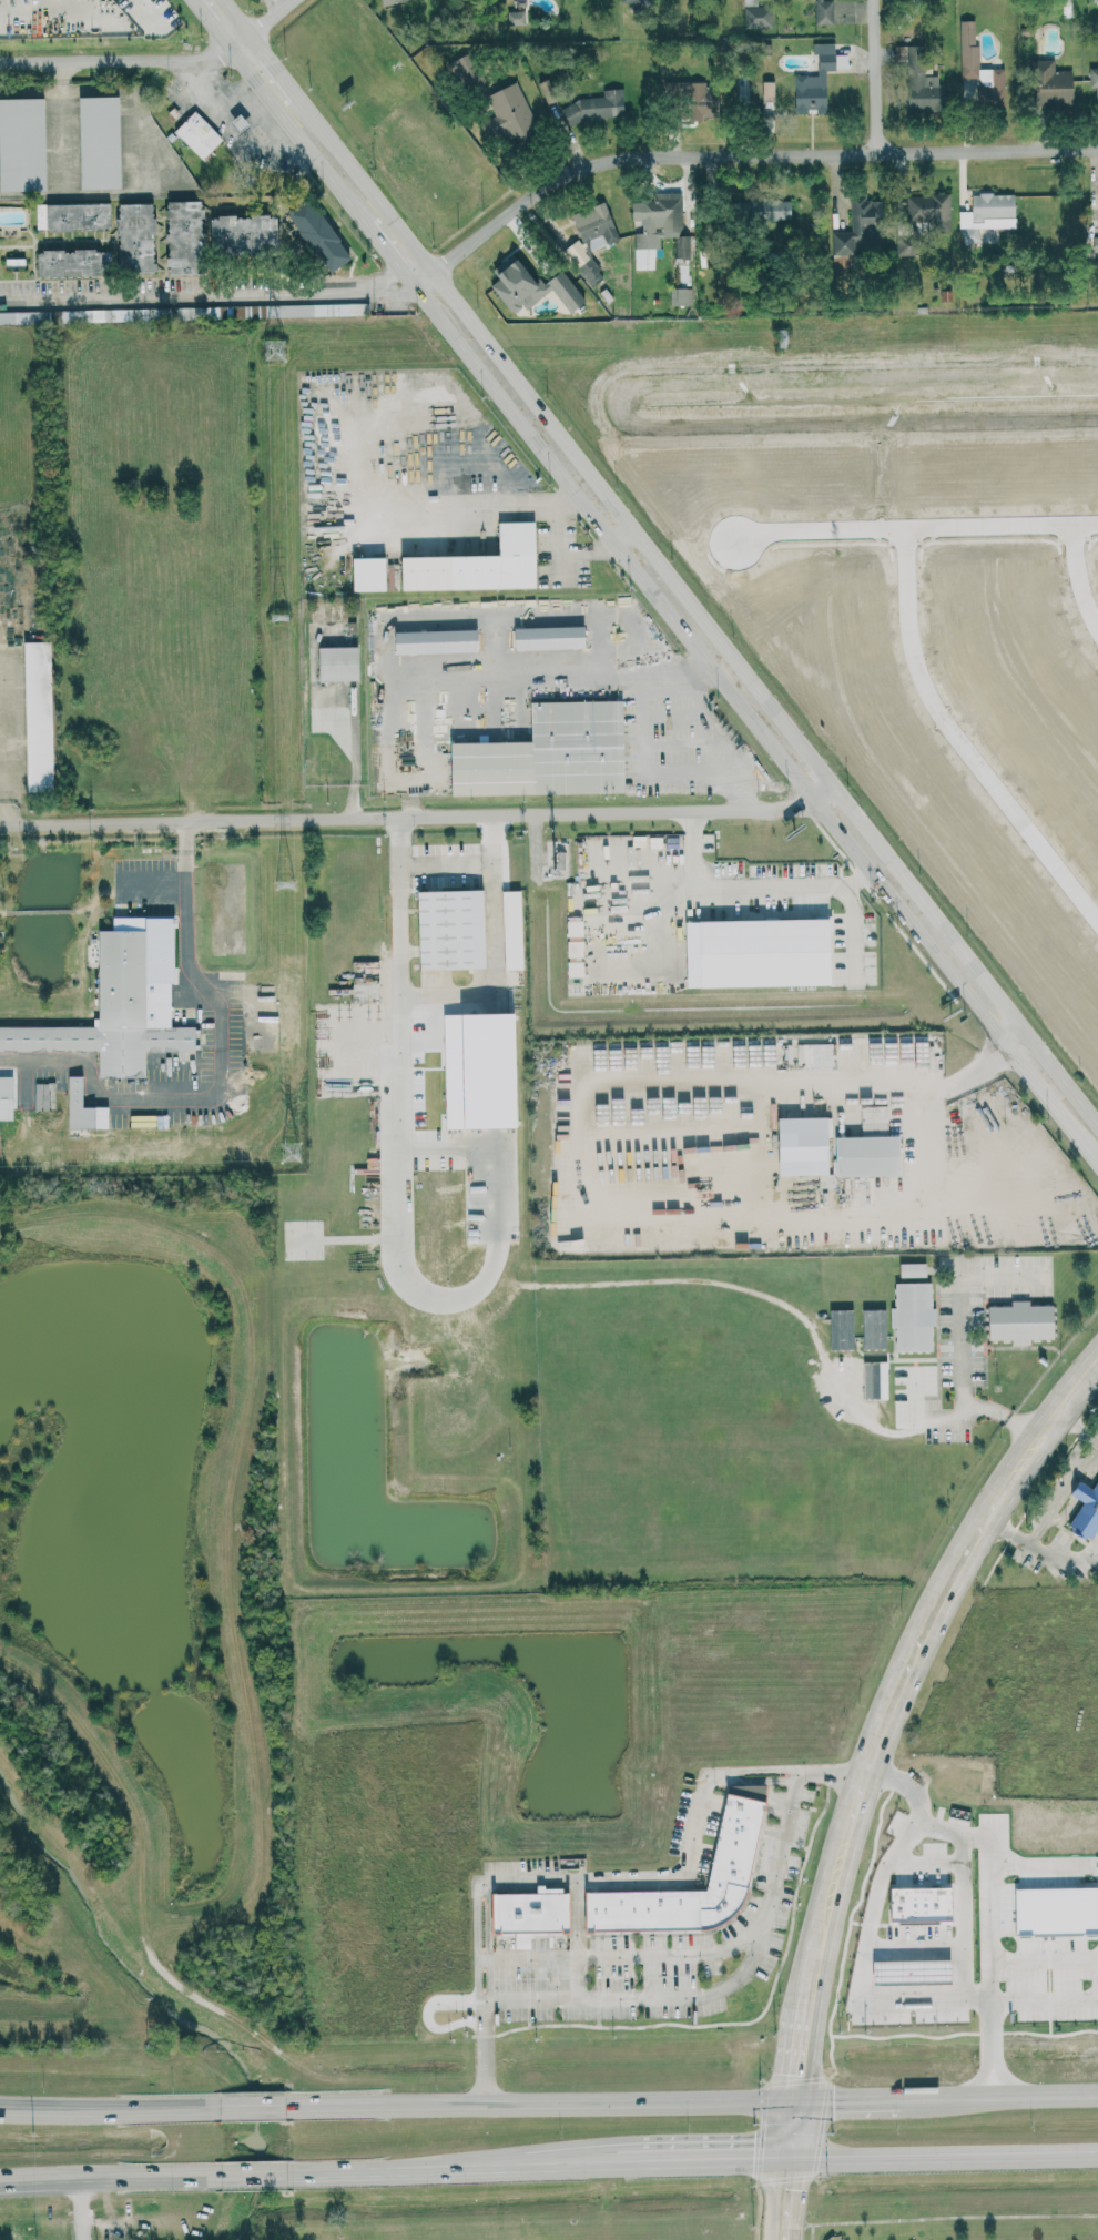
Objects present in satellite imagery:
building: (631, 0)
building: (389, 1)
building: (751, 2)
building: (824, 11)
road: (266, 16)
building: (758, 16)
road: (235, 17)
building: (516, 18)
building: (968, 43)
road: (128, 59)
road: (274, 65)
building: (458, 65)
road: (877, 73)
building: (817, 80)
building: (1094, 80)
building: (922, 83)
building: (1050, 83)
building: (547, 91)
building: (767, 91)
building: (693, 98)
road: (236, 107)
building: (597, 107)
building: (509, 113)
road: (60, 120)
building: (240, 123)
building: (199, 134)
building: (100, 141)
building: (22, 144)
road: (734, 152)
building: (764, 209)
building: (931, 210)
building: (989, 211)
building: (75, 215)
building: (662, 222)
building: (596, 225)
building: (856, 225)
building: (970, 233)
building: (244, 234)
building: (318, 234)
building: (185, 236)
building: (136, 237)
building: (1096, 243)
building: (909, 244)
road: (334, 249)
building: (73, 262)
building: (591, 272)
building: (531, 285)
road: (205, 294)
building: (681, 295)
building: (303, 310)
building: (186, 313)
building: (92, 314)
building: (24, 316)
power tower: (781, 338)
power tower: (273, 347)
road: (566, 499)
road: (514, 505)
road: (917, 531)
road: (622, 534)
building: (478, 564)
building: (368, 574)
road: (1080, 579)
road: (643, 582)
road: (699, 610)
power tower: (281, 616)
building: (549, 637)
building: (436, 640)
building: (338, 662)
road: (395, 672)
road: (590, 676)
building: (39, 716)
road: (959, 744)
building: (548, 753)
road: (642, 756)
road: (421, 815)
power tower: (285, 881)
road: (850, 889)
road: (712, 898)
road: (490, 901)
road: (184, 906)
building: (451, 929)
building: (512, 929)
building: (758, 952)
building: (111, 1015)
road: (935, 1086)
building: (6, 1097)
building: (79, 1105)
road: (939, 1136)
building: (803, 1145)
power tower: (291, 1151)
building: (867, 1155)
building: (858, 1188)
building: (913, 1269)
road: (547, 1283)
road: (962, 1297)
building: (913, 1316)
building: (1020, 1321)
building: (874, 1328)
building: (842, 1329)
building: (875, 1379)
road: (1056, 1417)
road: (1078, 1428)
road: (1061, 1493)
building: (1086, 1510)
road: (1038, 1551)
road: (921, 1651)
building: (733, 1845)
road: (603, 1882)
road: (996, 1894)
building: (531, 1913)
road: (824, 1913)
road: (966, 1919)
road: (619, 1956)
road: (863, 1970)
road: (718, 1987)
road: (1047, 2003)
river: (167, 2008)
road: (801, 2046)
road: (995, 2096)
road: (844, 2099)
traffic signals: (834, 2100)
road: (541, 2104)
road: (252, 2107)
road: (108, 2108)
road: (784, 2129)
road: (799, 2129)
road: (950, 2155)
traffic signals: (754, 2157)
road: (704, 2158)
road: (586, 2161)
road: (759, 2165)
road: (431, 2168)
road: (258, 2173)
road: (109, 2176)
traffic signals: (800, 2190)
road: (766, 2198)
road: (797, 2198)
road: (80, 2208)
road: (756, 2211)
road: (162, 2239)

